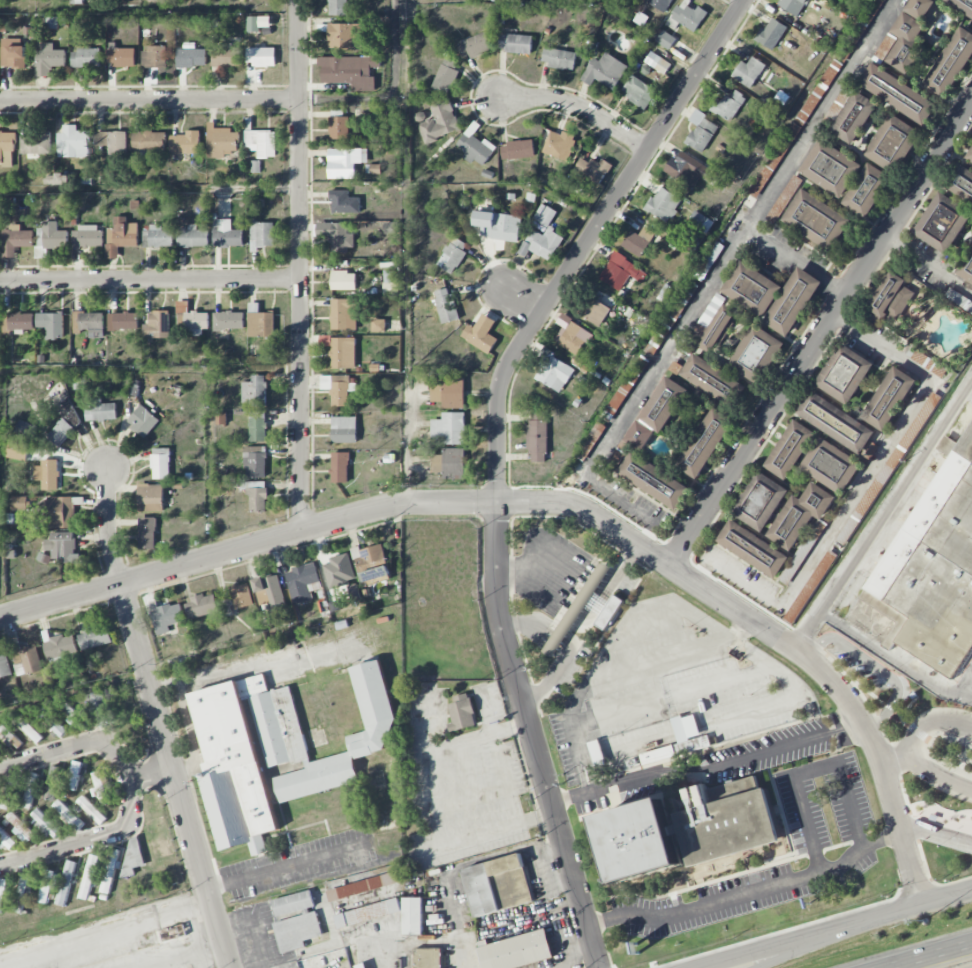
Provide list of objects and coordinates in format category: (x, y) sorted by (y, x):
building: (77, 1)
building: (660, 4)
building: (791, 5)
building: (962, 5)
building: (338, 7)
building: (686, 16)
building: (258, 23)
building: (906, 32)
building: (771, 34)
building: (345, 35)
building: (666, 40)
building: (515, 43)
building: (475, 46)
building: (13, 53)
building: (226, 56)
building: (261, 56)
building: (120, 57)
building: (154, 57)
building: (86, 58)
building: (191, 58)
building: (559, 58)
building: (48, 59)
building: (657, 62)
building: (951, 63)
building: (350, 71)
building: (605, 71)
building: (748, 72)
building: (446, 75)
building: (638, 91)
building: (898, 93)
road: (150, 101)
building: (728, 105)
road: (577, 107)
building: (854, 117)
building: (439, 122)
building: (339, 127)
building: (794, 129)
building: (700, 131)
building: (113, 141)
building: (148, 141)
building: (222, 141)
building: (73, 142)
building: (262, 142)
building: (35, 143)
building: (185, 143)
building: (893, 143)
building: (560, 144)
building: (475, 147)
building: (6, 148)
building: (518, 149)
building: (969, 155)
building: (346, 162)
building: (831, 168)
building: (683, 169)
building: (590, 172)
building: (62, 179)
building: (960, 182)
building: (867, 190)
building: (664, 204)
building: (817, 219)
building: (701, 221)
building: (943, 222)
building: (498, 225)
building: (392, 228)
building: (227, 234)
building: (262, 234)
building: (542, 235)
building: (121, 236)
building: (50, 237)
building: (87, 237)
building: (157, 237)
building: (192, 237)
building: (340, 238)
building: (16, 241)
building: (638, 241)
building: (453, 255)
building: (708, 260)
road: (798, 262)
road: (929, 264)
road: (302, 265)
building: (966, 267)
building: (621, 272)
building: (343, 280)
road: (151, 281)
road: (711, 283)
building: (391, 289)
building: (772, 295)
road: (525, 300)
building: (958, 300)
building: (445, 305)
building: (596, 312)
building: (344, 314)
building: (193, 318)
building: (228, 320)
building: (21, 321)
building: (88, 321)
building: (123, 321)
building: (51, 324)
building: (261, 324)
building: (157, 325)
building: (378, 325)
building: (718, 328)
building: (481, 333)
building: (572, 334)
road: (821, 338)
building: (341, 351)
building: (756, 353)
building: (554, 373)
building: (844, 373)
building: (713, 380)
building: (339, 388)
building: (254, 391)
building: (447, 393)
building: (889, 397)
building: (101, 410)
building: (657, 412)
building: (143, 421)
building: (835, 422)
building: (257, 426)
building: (449, 427)
building: (25, 429)
building: (344, 429)
building: (61, 432)
building: (537, 440)
building: (705, 442)
road: (406, 449)
building: (790, 449)
building: (17, 450)
road: (497, 455)
building: (255, 461)
building: (160, 463)
building: (449, 464)
building: (831, 465)
building: (340, 467)
building: (47, 474)
building: (654, 480)
road: (864, 480)
building: (256, 495)
building: (150, 497)
building: (760, 500)
building: (20, 503)
building: (60, 512)
building: (800, 515)
road: (884, 516)
road: (338, 520)
building: (147, 532)
building: (60, 548)
building: (753, 548)
road: (706, 561)
building: (371, 563)
building: (933, 567)
road: (698, 575)
building: (303, 582)
building: (810, 587)
building: (269, 592)
building: (241, 595)
building: (596, 599)
building: (201, 606)
building: (165, 616)
building: (562, 632)
building: (94, 636)
building: (60, 646)
road: (793, 648)
building: (25, 658)
road: (895, 659)
building: (4, 666)
road: (550, 676)
road: (966, 686)
building: (100, 708)
building: (460, 712)
building: (69, 713)
road: (160, 719)
road: (929, 722)
building: (29, 730)
building: (350, 738)
building: (680, 741)
road: (72, 744)
building: (245, 754)
road: (736, 759)
road: (895, 760)
road: (814, 769)
road: (155, 771)
building: (73, 775)
road: (938, 777)
building: (52, 782)
building: (27, 789)
building: (7, 793)
road: (579, 794)
road: (434, 809)
building: (91, 810)
building: (67, 815)
building: (45, 824)
building: (20, 826)
building: (684, 831)
road: (902, 833)
road: (937, 833)
building: (6, 841)
road: (89, 841)
road: (508, 850)
building: (132, 854)
road: (289, 865)
road: (559, 867)
building: (88, 876)
building: (65, 882)
building: (498, 884)
building: (47, 885)
building: (363, 886)
building: (2, 890)
building: (20, 892)
road: (748, 893)
road: (947, 896)
road: (892, 912)
building: (367, 913)
building: (412, 915)
building: (296, 919)
building: (166, 935)
road: (109, 937)
road: (579, 944)
road: (779, 944)
road: (812, 946)
building: (516, 951)
road: (173, 952)
road: (926, 955)
building: (428, 958)
building: (365, 967)

